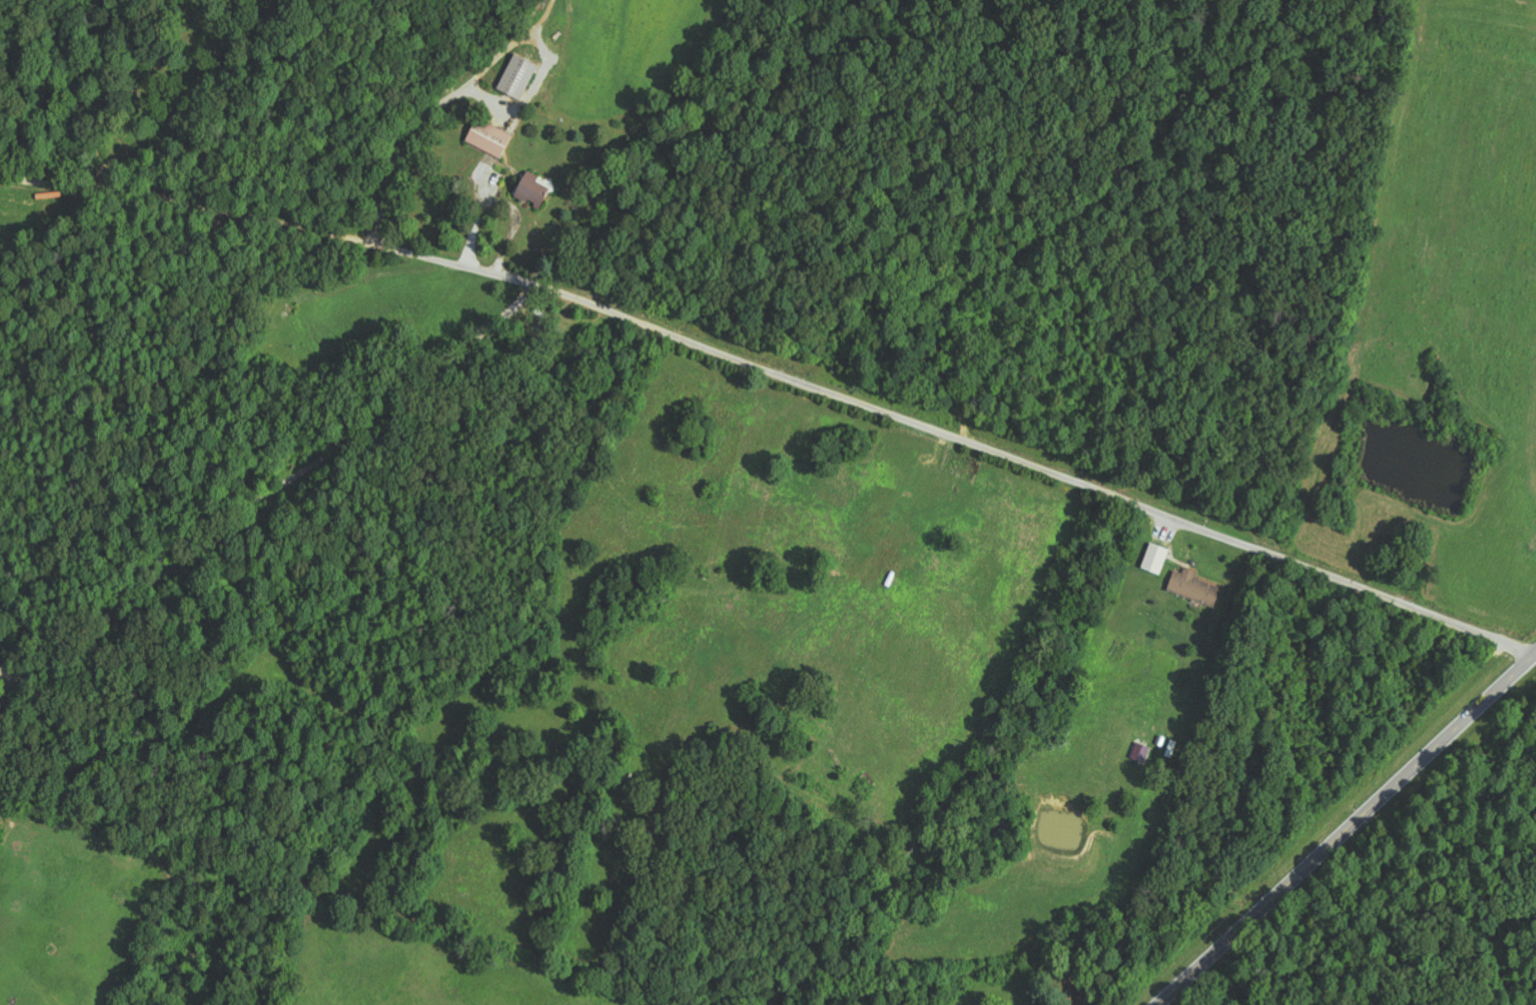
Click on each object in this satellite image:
building: (518, 77)
building: (489, 138)
building: (533, 190)
road: (314, 424)
road: (950, 436)
building: (1156, 559)
building: (1195, 587)
road: (67, 667)
road: (1347, 829)
road: (265, 976)

